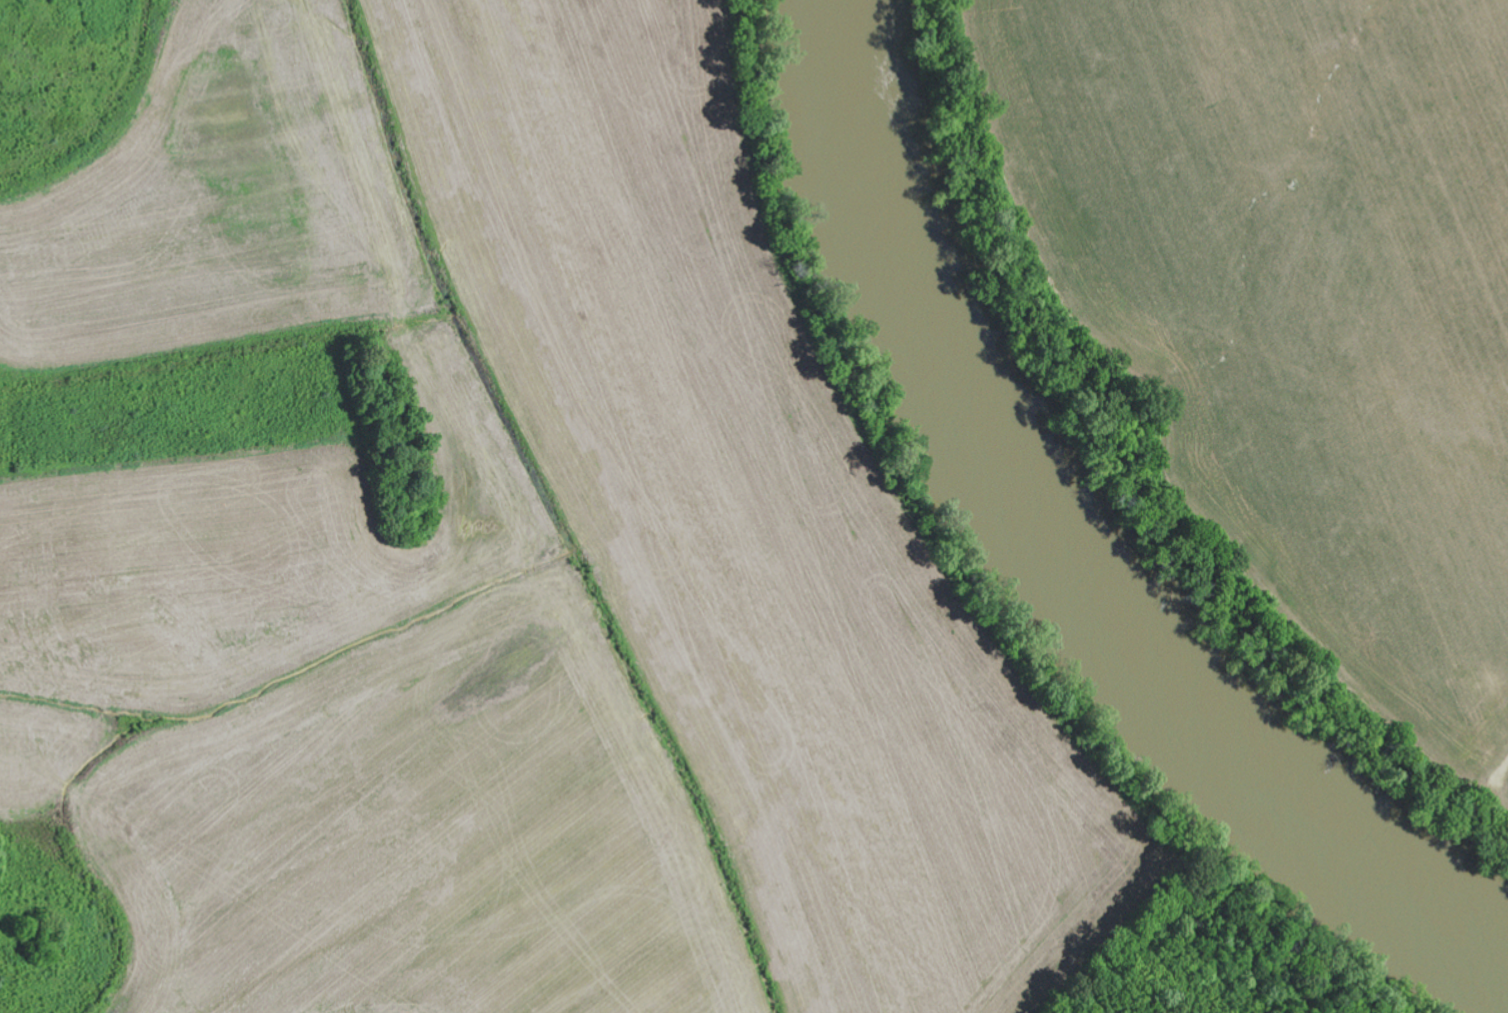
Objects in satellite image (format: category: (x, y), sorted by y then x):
river: (1055, 565)
road: (1501, 769)

